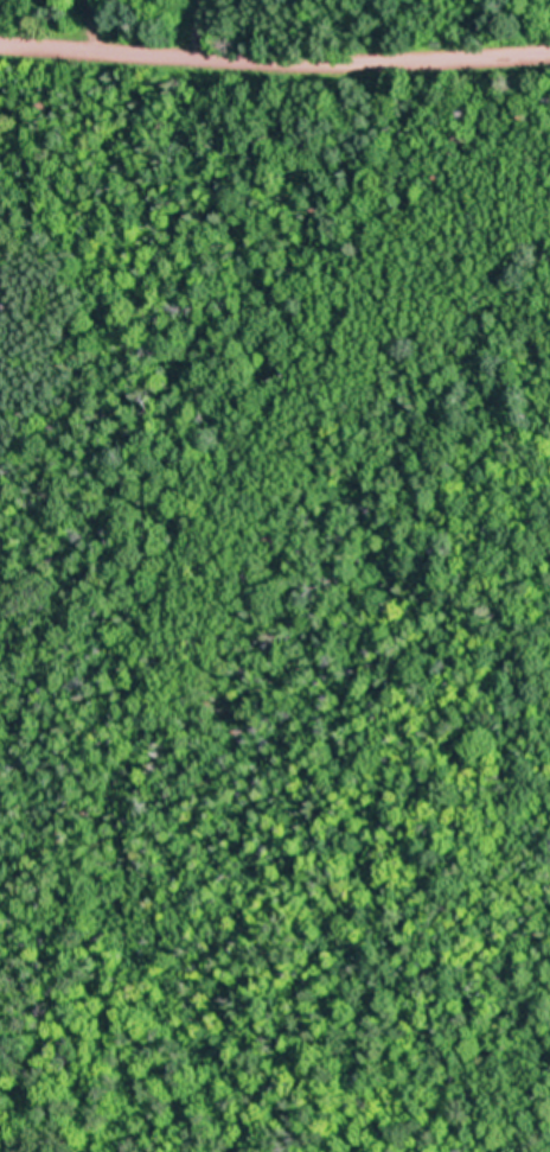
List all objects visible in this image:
road: (275, 65)

